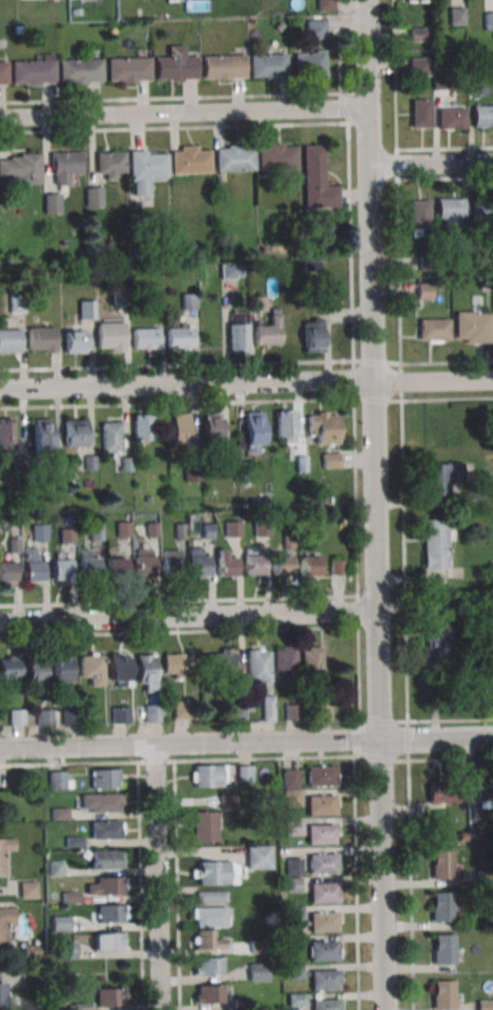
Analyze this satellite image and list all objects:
building: (414, 0)
building: (324, 4)
building: (75, 11)
building: (456, 16)
building: (488, 20)
building: (278, 27)
building: (315, 28)
building: (417, 34)
building: (309, 63)
building: (176, 65)
building: (224, 65)
building: (268, 65)
building: (418, 66)
building: (129, 69)
building: (79, 70)
building: (3, 72)
building: (32, 72)
building: (440, 83)
road: (170, 98)
building: (421, 112)
road: (183, 113)
building: (482, 115)
building: (451, 118)
road: (174, 128)
road: (444, 148)
building: (277, 156)
building: (234, 158)
building: (190, 161)
road: (430, 162)
building: (110, 165)
building: (64, 166)
building: (22, 168)
building: (144, 170)
building: (316, 178)
road: (445, 178)
road: (349, 179)
building: (93, 196)
building: (52, 202)
building: (482, 208)
building: (450, 210)
building: (418, 216)
building: (461, 242)
building: (489, 257)
building: (426, 261)
building: (157, 268)
building: (231, 271)
building: (424, 291)
building: (120, 297)
building: (333, 300)
building: (189, 301)
building: (258, 303)
building: (16, 304)
building: (87, 309)
building: (473, 326)
building: (433, 330)
building: (237, 332)
building: (267, 332)
building: (110, 335)
building: (313, 335)
building: (145, 337)
building: (180, 337)
building: (42, 338)
building: (10, 340)
building: (74, 341)
road: (377, 362)
road: (447, 363)
road: (176, 366)
road: (353, 380)
road: (432, 381)
road: (186, 386)
road: (447, 399)
road: (376, 400)
road: (176, 403)
building: (284, 425)
building: (141, 426)
building: (211, 426)
building: (180, 428)
building: (253, 428)
building: (323, 429)
building: (6, 432)
building: (75, 432)
building: (41, 434)
building: (110, 436)
building: (228, 455)
building: (330, 460)
building: (86, 462)
building: (19, 463)
building: (242, 463)
building: (301, 463)
building: (126, 464)
building: (246, 470)
building: (193, 472)
building: (56, 474)
building: (442, 476)
building: (313, 488)
road: (355, 497)
building: (148, 499)
road: (403, 504)
road: (372, 505)
building: (151, 528)
building: (233, 528)
building: (261, 528)
building: (122, 529)
building: (179, 530)
building: (207, 530)
building: (39, 531)
building: (96, 531)
building: (67, 535)
building: (289, 541)
building: (435, 543)
building: (13, 544)
building: (142, 561)
building: (197, 561)
building: (252, 561)
building: (171, 562)
building: (225, 563)
building: (87, 564)
building: (281, 564)
building: (31, 565)
building: (309, 565)
building: (338, 566)
building: (115, 567)
building: (60, 569)
building: (7, 570)
road: (179, 601)
building: (435, 608)
road: (358, 611)
road: (186, 616)
road: (178, 631)
building: (439, 643)
building: (225, 660)
building: (286, 661)
building: (312, 662)
building: (180, 665)
building: (259, 665)
building: (9, 667)
building: (92, 668)
building: (120, 669)
building: (63, 671)
building: (36, 672)
building: (146, 672)
road: (359, 675)
building: (267, 708)
building: (182, 709)
building: (321, 710)
building: (153, 712)
building: (293, 712)
building: (237, 713)
building: (120, 714)
building: (70, 716)
building: (16, 717)
building: (44, 717)
road: (426, 721)
road: (356, 739)
road: (435, 740)
road: (189, 746)
road: (246, 758)
building: (244, 772)
building: (208, 774)
building: (321, 775)
building: (104, 777)
building: (289, 778)
building: (57, 779)
building: (484, 790)
building: (444, 792)
building: (291, 798)
building: (263, 799)
building: (226, 800)
building: (99, 802)
building: (320, 804)
building: (59, 814)
building: (204, 826)
building: (294, 826)
building: (105, 830)
building: (475, 832)
building: (321, 835)
building: (461, 837)
building: (73, 842)
building: (4, 850)
building: (258, 857)
building: (105, 859)
building: (322, 863)
building: (442, 864)
building: (293, 865)
building: (54, 868)
building: (215, 872)
road: (155, 878)
building: (483, 879)
road: (355, 883)
building: (106, 885)
road: (139, 885)
road: (176, 885)
building: (292, 885)
building: (27, 889)
building: (323, 892)
building: (210, 896)
building: (69, 897)
building: (442, 906)
building: (293, 912)
building: (108, 913)
building: (209, 916)
building: (267, 919)
building: (323, 921)
building: (5, 922)
building: (60, 923)
building: (206, 939)
building: (107, 941)
building: (258, 947)
building: (284, 948)
building: (443, 949)
building: (67, 950)
building: (323, 950)
building: (29, 951)
building: (207, 965)
building: (258, 971)
building: (294, 972)
building: (325, 979)
building: (1, 991)
building: (208, 994)
building: (443, 994)
building: (109, 996)
building: (296, 999)
building: (241, 1004)
building: (325, 1005)
building: (484, 1005)
building: (80, 1006)

